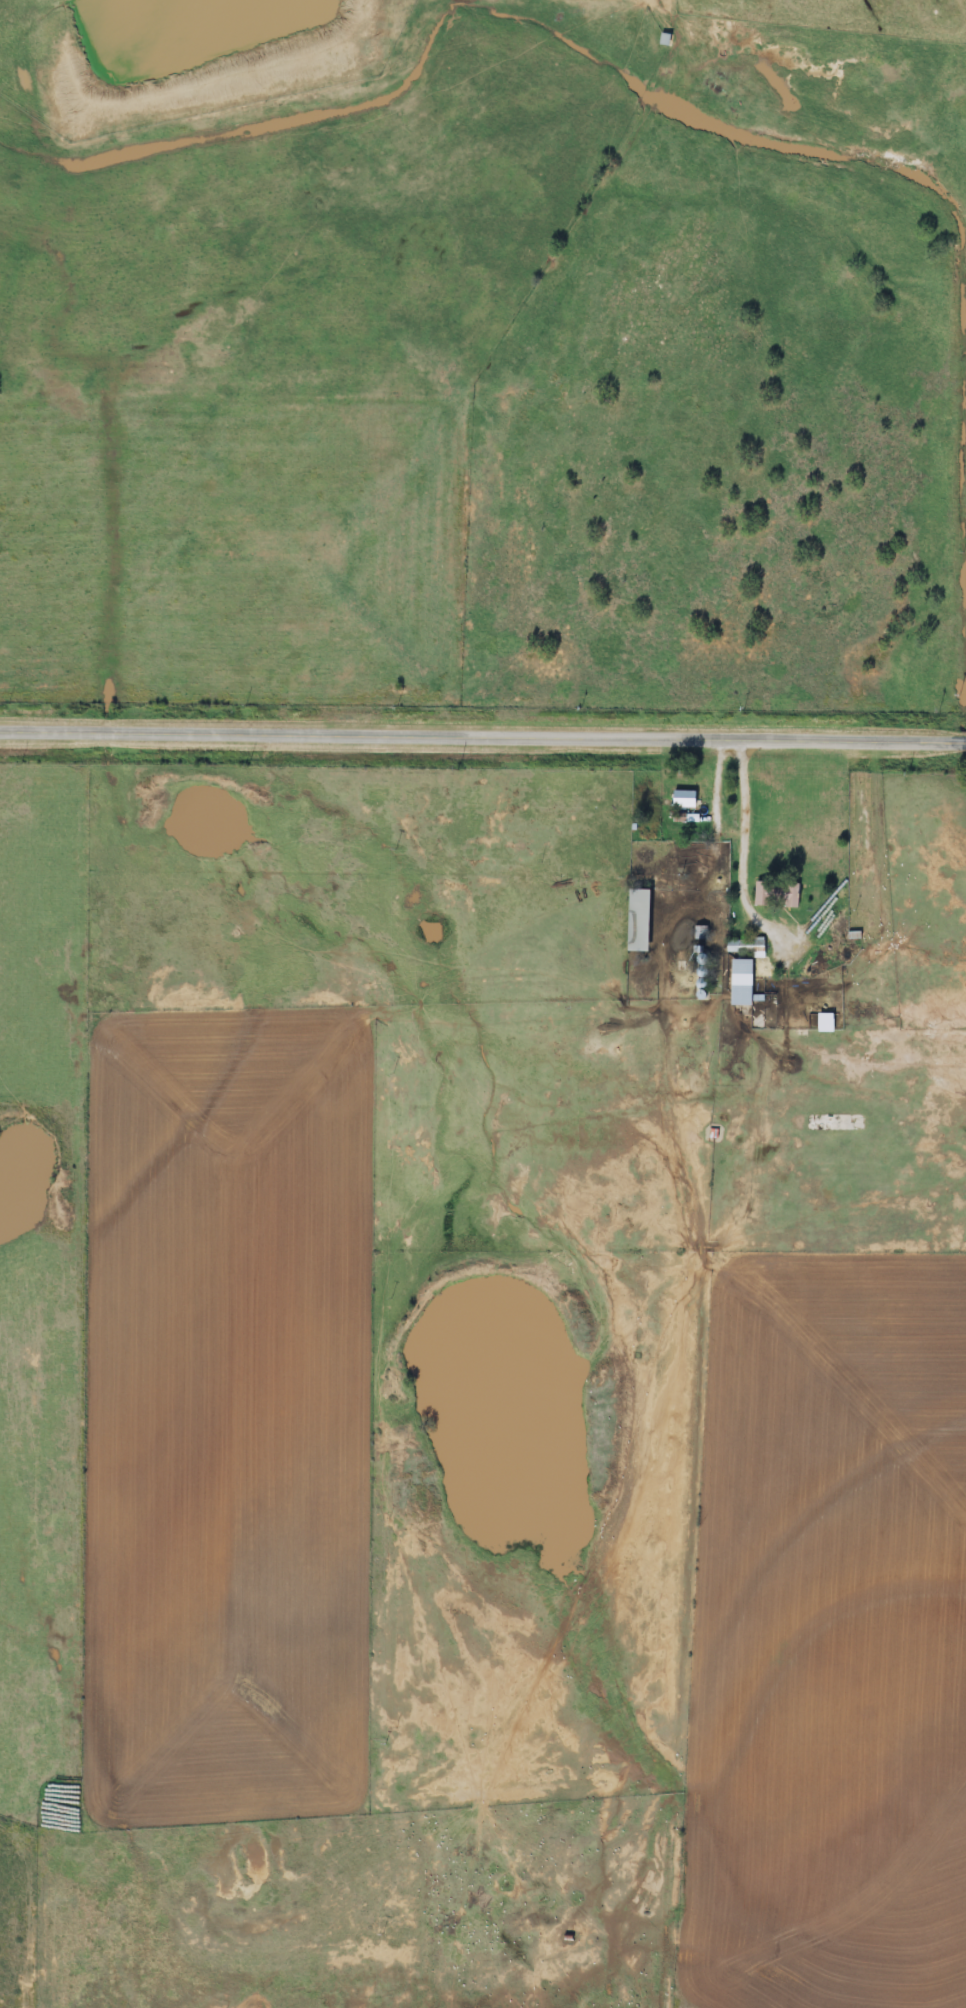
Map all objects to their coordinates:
building: (662, 39)
road: (483, 731)
building: (681, 798)
building: (774, 894)
building: (636, 920)
building: (743, 946)
building: (739, 982)
building: (822, 1022)

